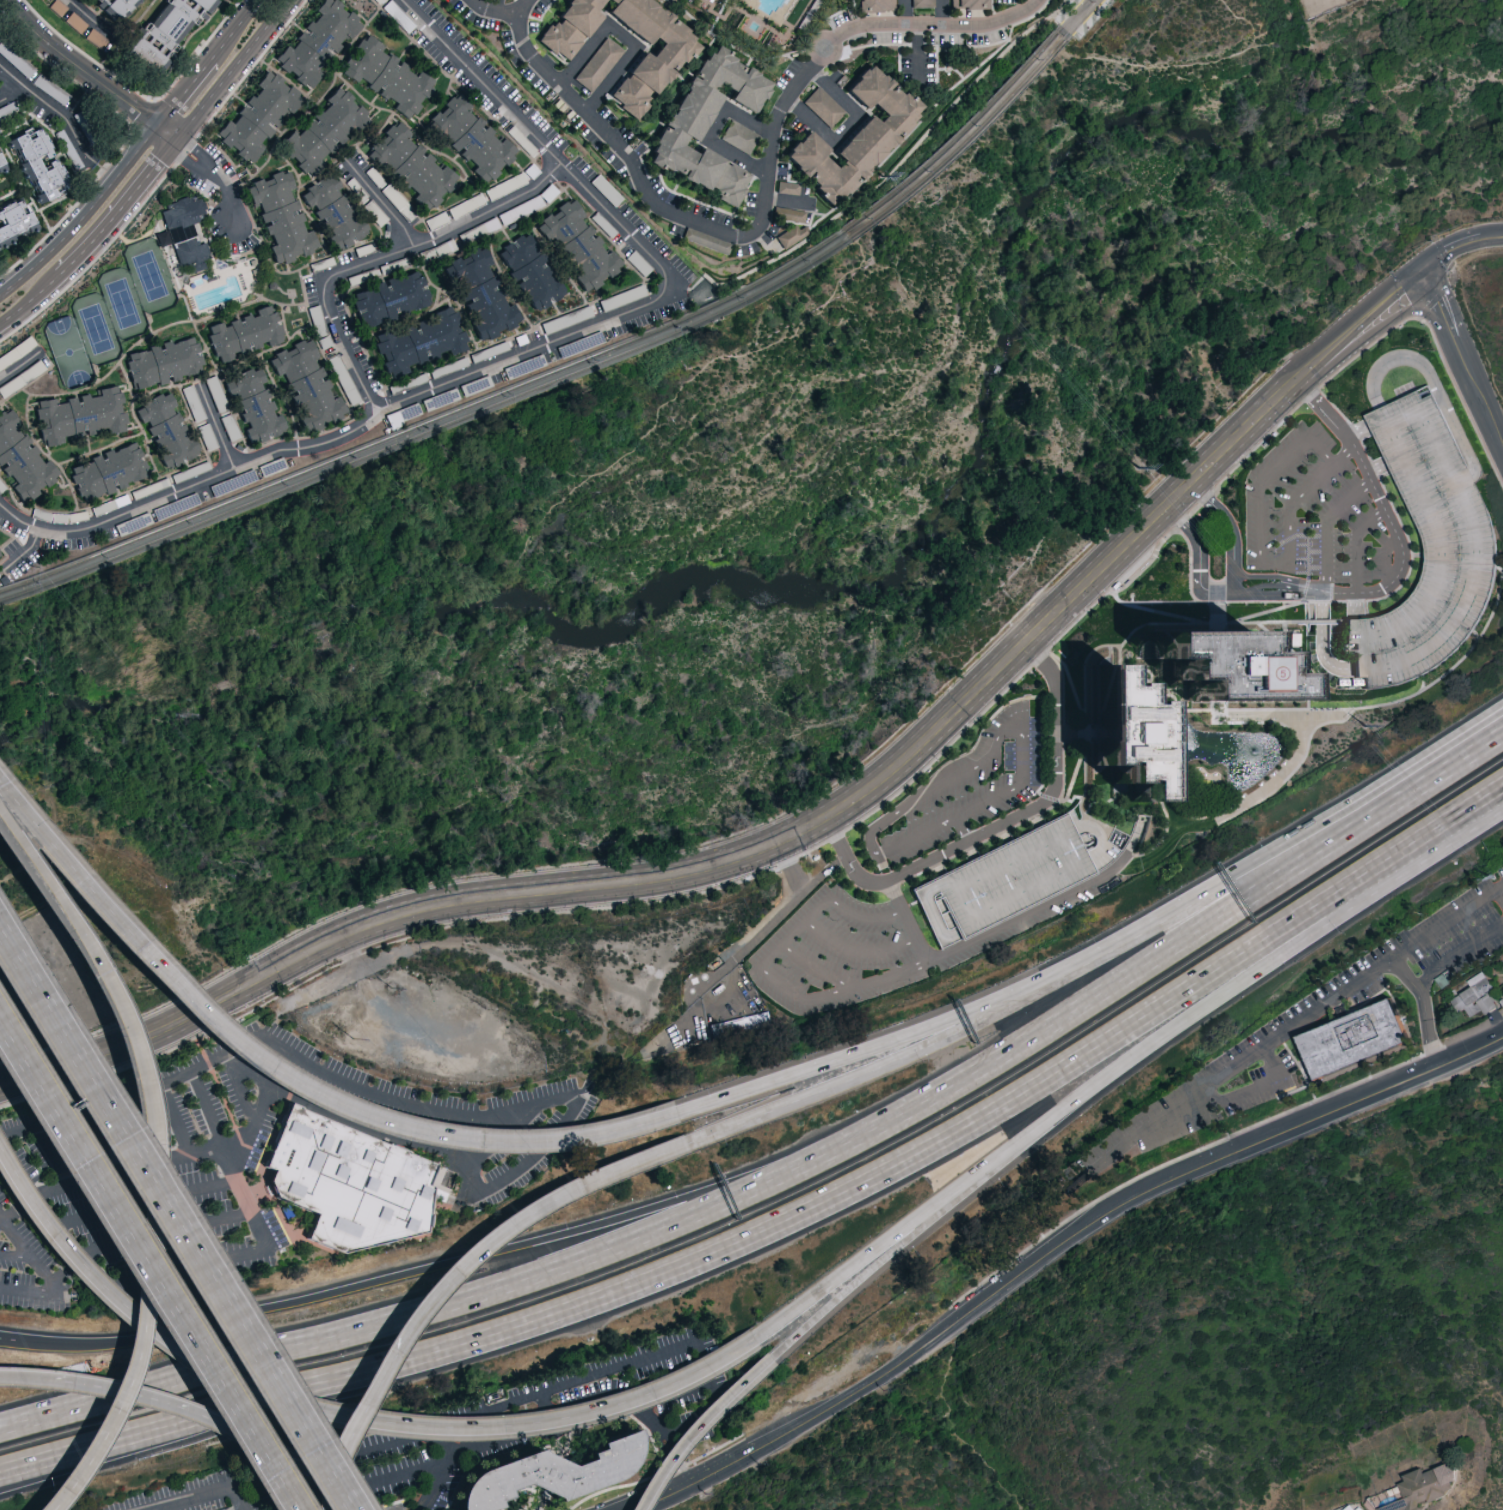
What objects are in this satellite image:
building: (922, 2)
building: (966, 4)
building: (764, 5)
building: (875, 5)
building: (57, 6)
road: (522, 8)
building: (115, 9)
road: (947, 11)
road: (905, 12)
railway: (1079, 14)
railway: (1088, 17)
road: (93, 18)
building: (170, 22)
road: (934, 22)
building: (569, 26)
railway: (1062, 26)
road: (237, 30)
road: (623, 39)
building: (315, 41)
railway: (1079, 43)
road: (915, 46)
building: (144, 56)
building: (597, 64)
road: (233, 71)
road: (87, 74)
building: (645, 74)
building: (385, 76)
road: (13, 93)
road: (185, 94)
road: (53, 106)
building: (823, 106)
building: (256, 115)
building: (684, 124)
road: (847, 126)
road: (715, 129)
building: (322, 130)
building: (739, 136)
building: (854, 137)
railway: (962, 137)
building: (468, 138)
railway: (967, 143)
building: (2, 165)
building: (411, 165)
building: (36, 168)
road: (104, 170)
road: (212, 175)
power tower: (885, 178)
building: (787, 187)
road: (378, 204)
road: (119, 209)
road: (664, 209)
building: (333, 212)
building: (789, 214)
building: (279, 216)
road: (82, 217)
building: (16, 222)
building: (182, 231)
building: (791, 235)
road: (1493, 237)
building: (576, 245)
road: (1449, 249)
road: (378, 255)
traffic signals: (1421, 270)
building: (529, 272)
park: (153, 276)
road: (1432, 291)
building: (480, 293)
building: (388, 298)
road: (31, 301)
park: (125, 304)
road: (1356, 322)
park: (99, 330)
building: (243, 332)
building: (419, 341)
park: (72, 352)
road: (523, 353)
building: (162, 362)
road: (18, 369)
road: (1473, 379)
building: (305, 386)
building: (253, 404)
building: (78, 415)
railway: (429, 426)
road: (219, 429)
building: (165, 430)
railway: (431, 434)
building: (21, 460)
power tower: (1141, 469)
building: (107, 471)
road: (1369, 522)
road: (1324, 527)
road: (1306, 529)
road: (1399, 545)
road: (1355, 548)
parking lot: (1428, 548)
road: (1261, 556)
river: (829, 565)
road: (1233, 596)
building: (1220, 664)
power tower: (1368, 728)
building: (1121, 735)
road: (1465, 750)
road: (955, 776)
road: (1392, 794)
road: (999, 823)
road: (962, 828)
building: (1046, 829)
road: (1309, 839)
road: (718, 862)
road: (1398, 864)
road: (789, 867)
power tower: (1495, 878)
parking lot: (1004, 882)
road: (1501, 891)
road: (1047, 904)
road: (1181, 909)
road: (768, 926)
road: (857, 950)
road: (1458, 954)
road: (94, 956)
road: (1396, 958)
road: (1140, 969)
road: (797, 996)
building: (1477, 996)
building: (738, 1023)
road: (892, 1041)
building: (1359, 1041)
road: (896, 1060)
road: (1240, 1062)
road: (187, 1074)
road: (286, 1082)
road: (241, 1086)
road: (1224, 1098)
road: (94, 1120)
road: (1024, 1135)
road: (209, 1147)
road: (232, 1164)
building: (348, 1181)
road: (155, 1200)
road: (518, 1216)
road: (178, 1217)
road: (1, 1219)
road: (84, 1237)
road: (149, 1237)
road: (915, 1239)
road: (1056, 1253)
road: (14, 1256)
road: (150, 1264)
road: (433, 1265)
road: (674, 1269)
road: (47, 1273)
road: (429, 1307)
road: (132, 1329)
road: (7, 1339)
road: (13, 1376)
road: (127, 1392)
road: (339, 1418)
road: (352, 1421)
road: (693, 1426)
road: (303, 1461)
road: (79, 1462)
building: (543, 1471)
building: (1421, 1487)
road: (209, 1499)
building: (1353, 1506)
building: (227, 1508)

